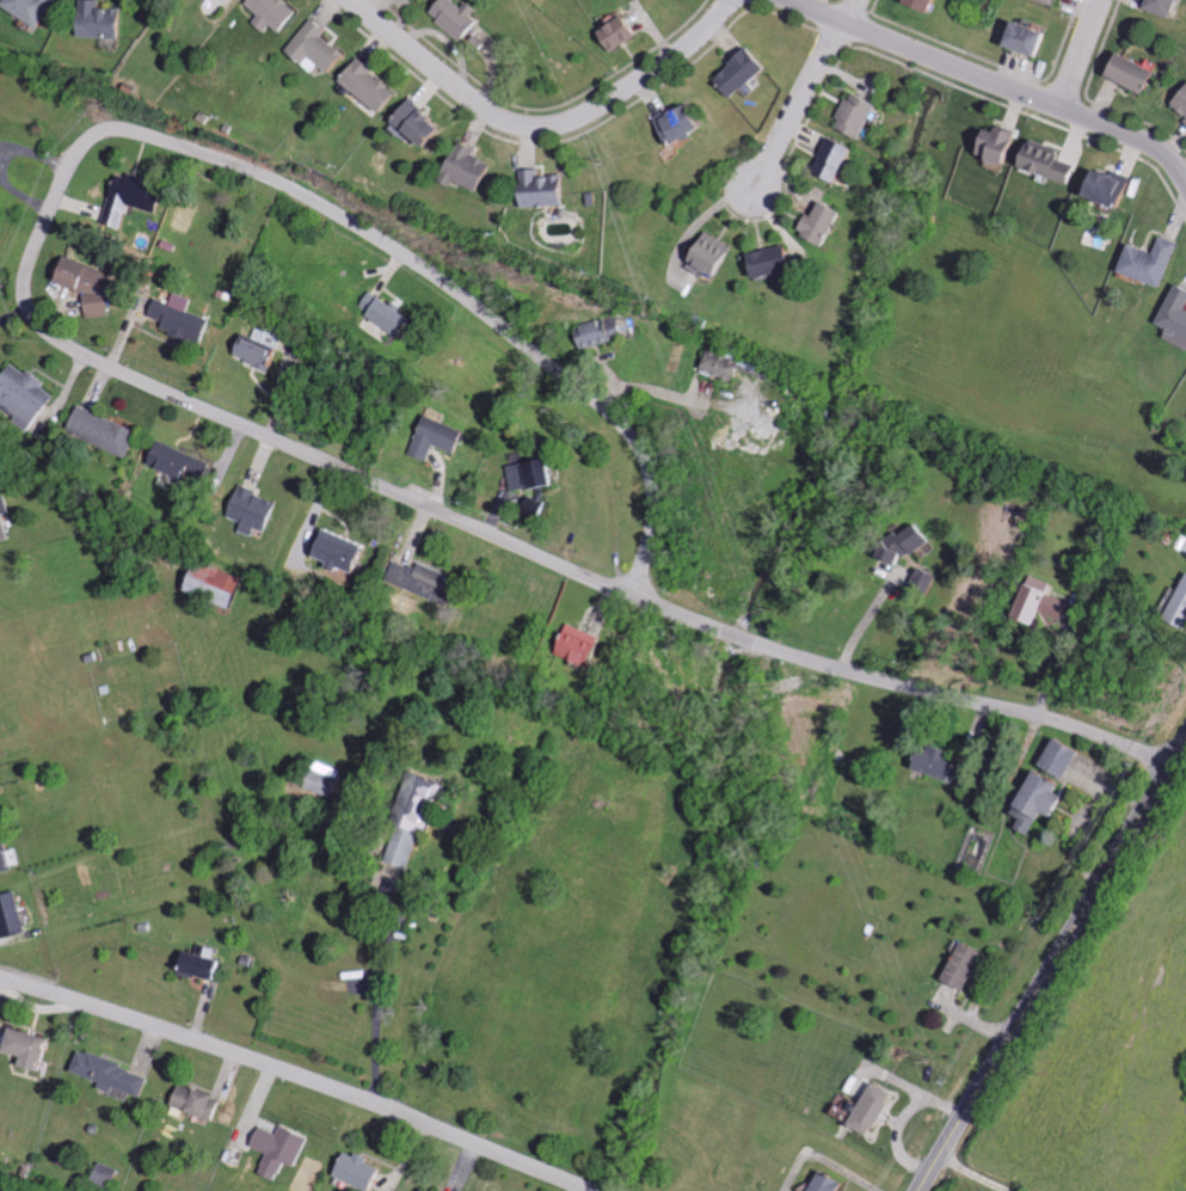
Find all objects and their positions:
building: (429, 0)
building: (1058, 1)
building: (934, 4)
building: (1167, 6)
building: (37, 8)
road: (816, 11)
road: (848, 11)
building: (265, 12)
building: (462, 17)
building: (105, 19)
building: (623, 32)
building: (1034, 37)
road: (1080, 53)
building: (746, 72)
building: (1137, 73)
building: (374, 84)
road: (1021, 91)
building: (1181, 103)
road: (797, 104)
building: (865, 113)
building: (426, 123)
building: (687, 123)
road: (542, 124)
building: (1004, 143)
road: (208, 158)
building: (841, 158)
building: (1050, 161)
building: (473, 168)
building: (1116, 186)
building: (547, 189)
building: (135, 197)
building: (829, 222)
building: (715, 254)
building: (778, 260)
building: (1154, 262)
building: (391, 313)
building: (1178, 317)
building: (188, 319)
building: (602, 331)
building: (264, 352)
building: (739, 366)
road: (651, 385)
building: (26, 394)
building: (109, 430)
building: (442, 437)
building: (188, 462)
building: (537, 474)
building: (259, 510)
building: (4, 518)
building: (428, 581)
building: (923, 581)
building: (223, 584)
building: (1043, 602)
power tower: (766, 609)
building: (1181, 610)
road: (871, 615)
building: (588, 645)
road: (903, 684)
building: (1065, 757)
building: (942, 763)
building: (328, 785)
building: (1046, 800)
building: (1, 806)
building: (10, 854)
building: (14, 915)
building: (209, 963)
building: (969, 965)
road: (1053, 966)
road: (374, 1000)
building: (35, 1048)
power tower: (928, 1056)
building: (116, 1074)
road: (300, 1076)
building: (202, 1103)
building: (878, 1110)
building: (284, 1149)
building: (365, 1172)
road: (971, 1174)
building: (111, 1175)
building: (831, 1183)

